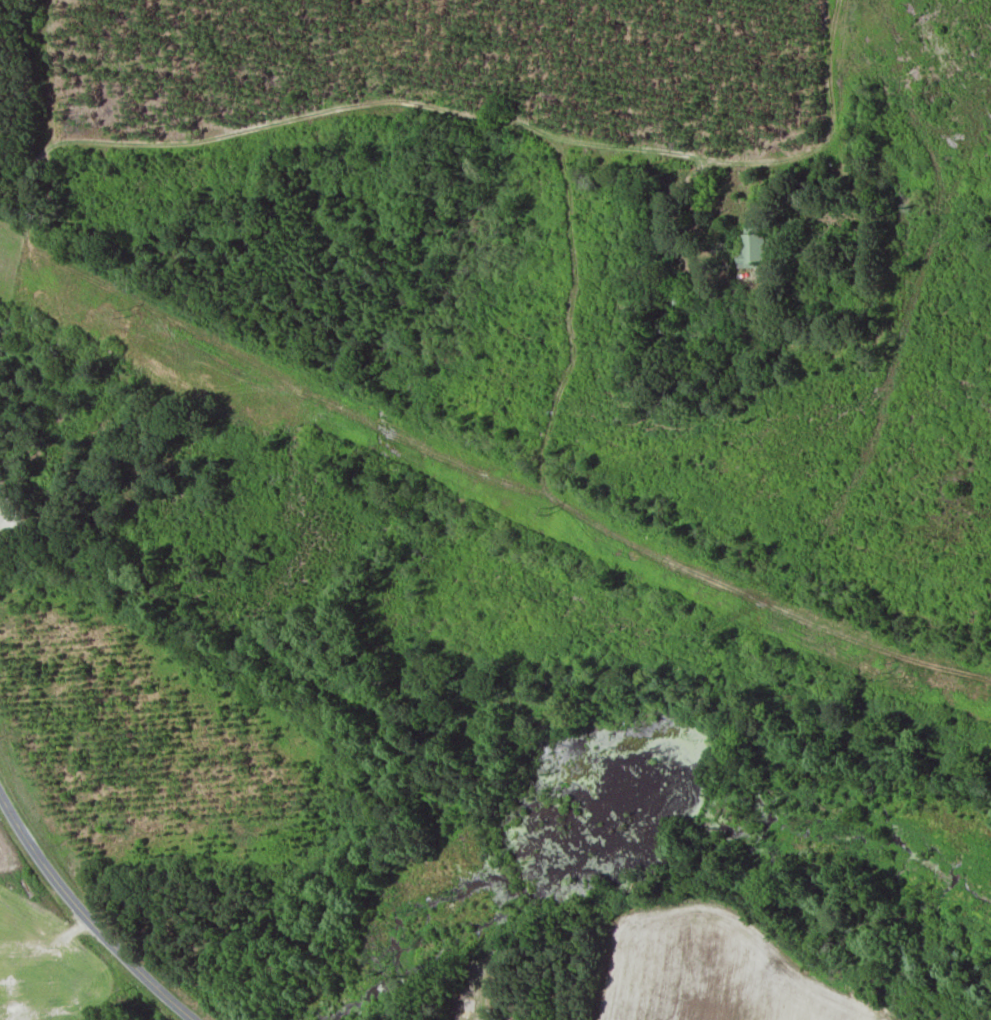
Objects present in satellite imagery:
building: (753, 247)
building: (678, 296)
power tower: (126, 312)
power tower: (549, 510)
power tower: (886, 671)
road: (86, 917)

